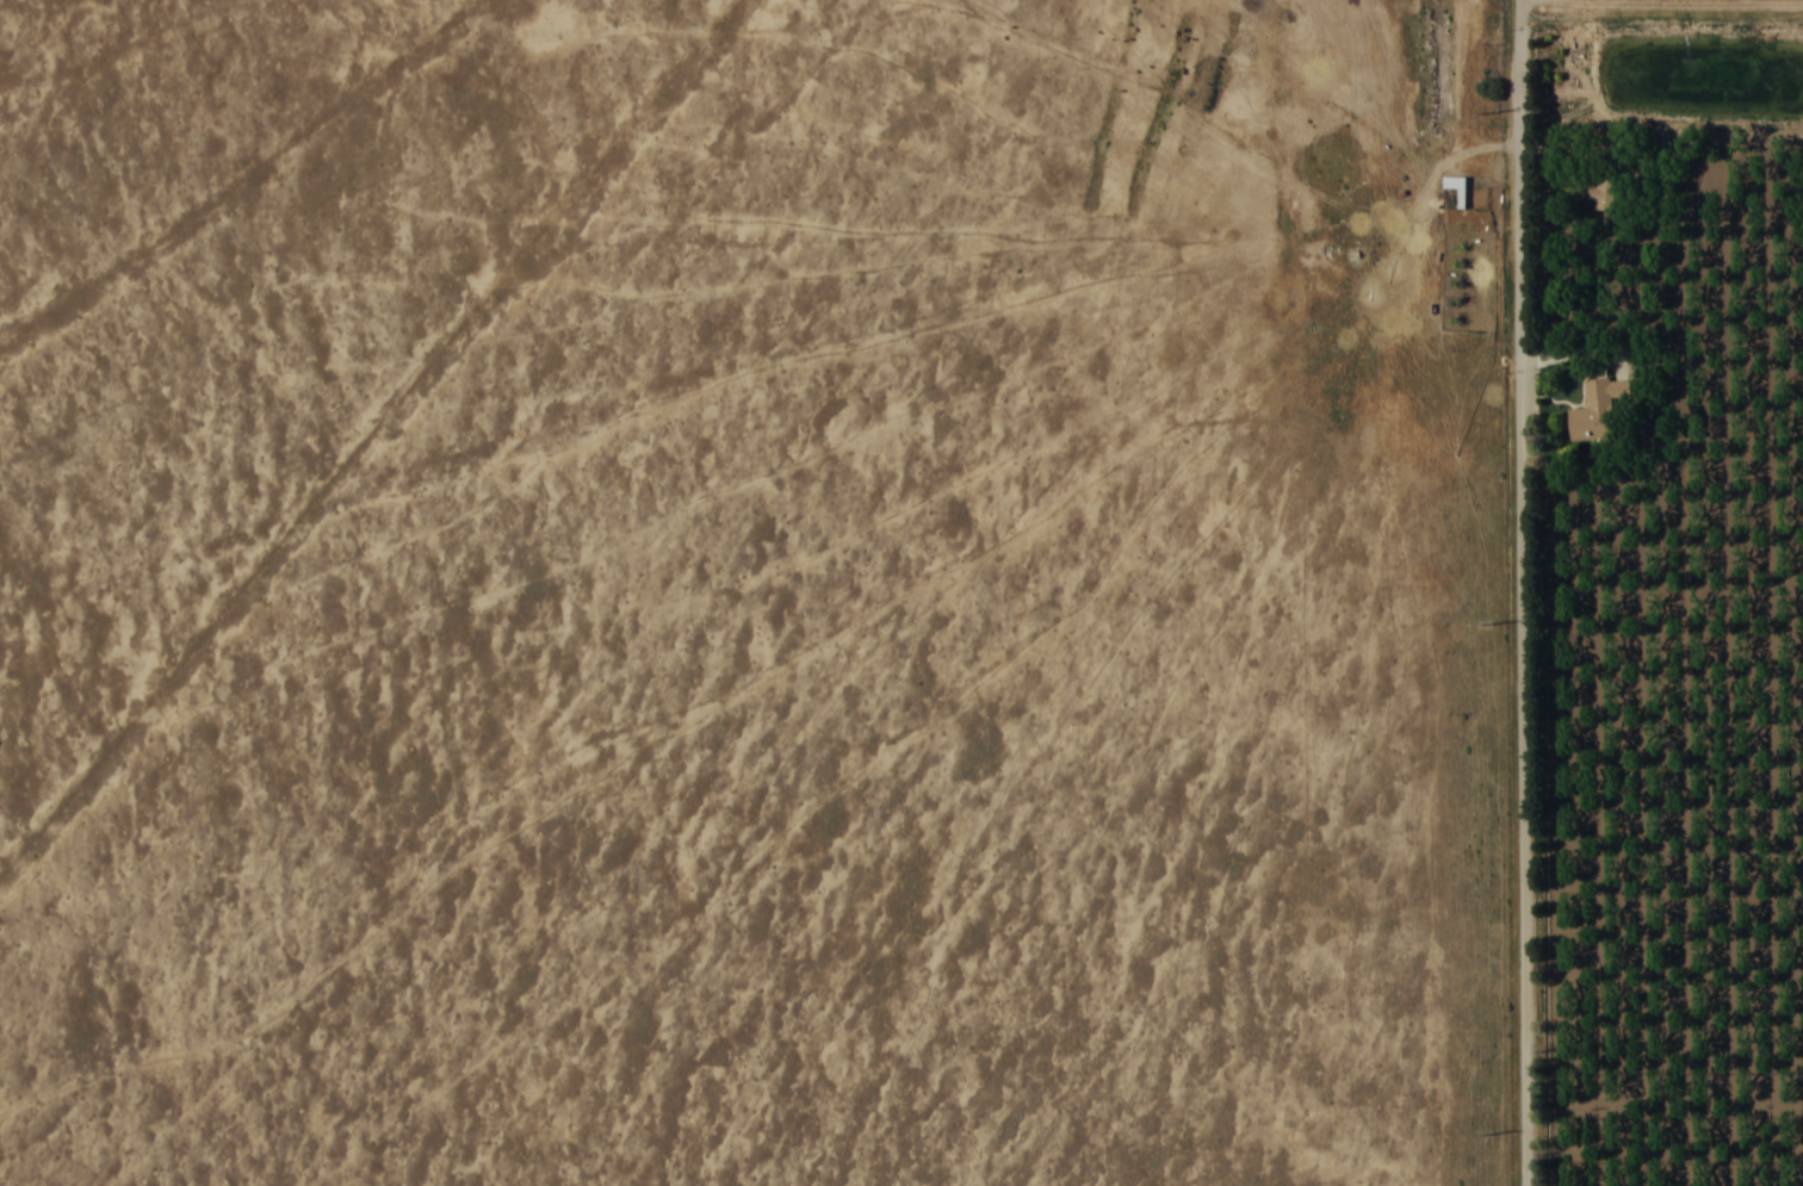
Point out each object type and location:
power tower: (1480, 111)
building: (1604, 187)
building: (1596, 409)
road: (1522, 592)
power tower: (1482, 621)
power tower: (1485, 1131)

